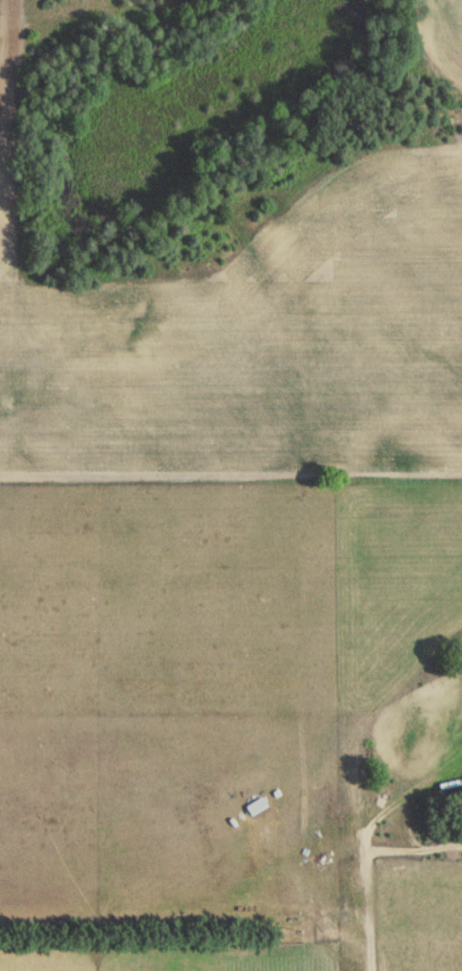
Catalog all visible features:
building: (257, 806)

